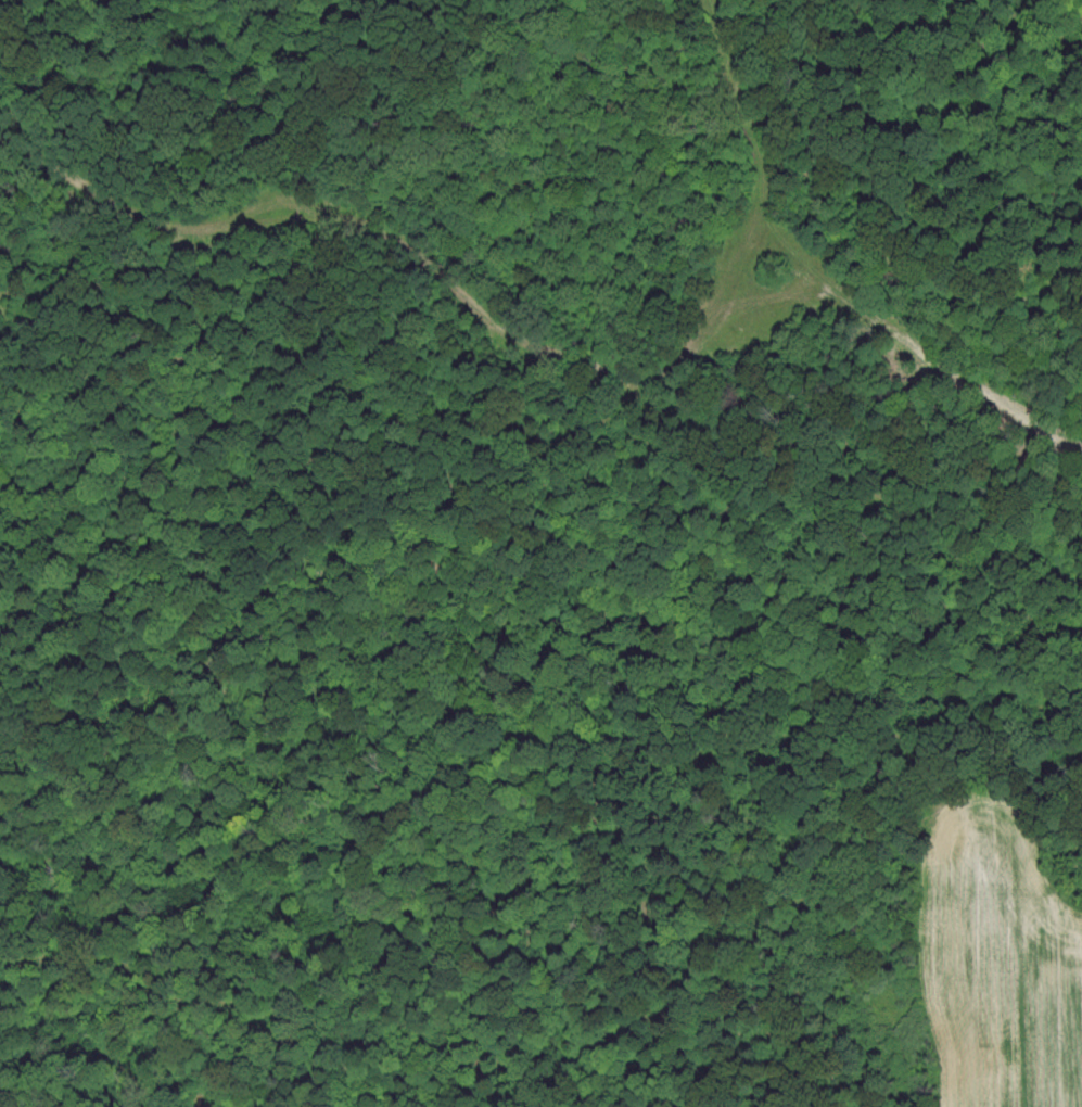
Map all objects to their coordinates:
road: (518, 327)

